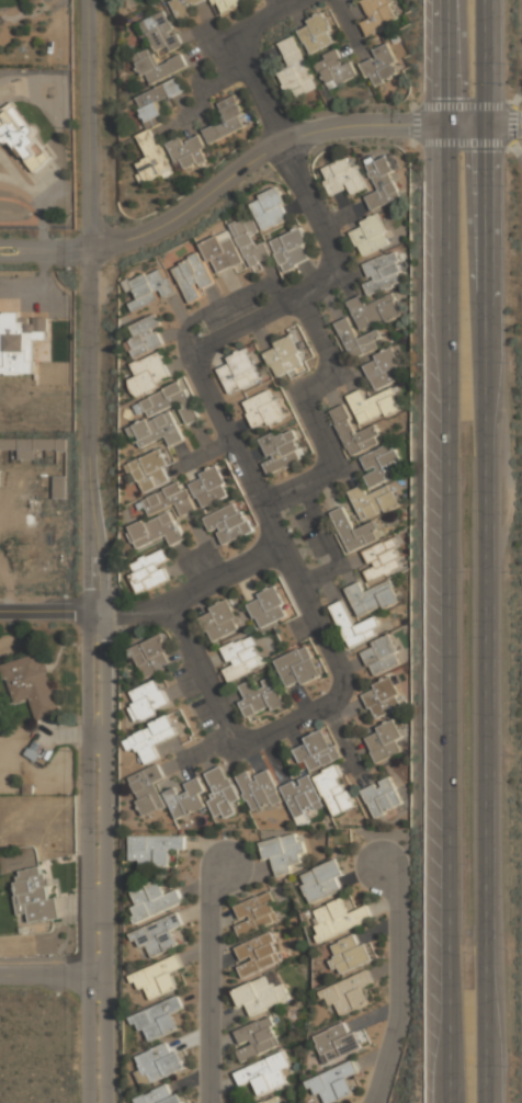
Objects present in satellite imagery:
building: (227, 3)
building: (183, 7)
building: (378, 15)
building: (162, 32)
building: (317, 32)
building: (381, 64)
building: (158, 65)
building: (334, 67)
building: (296, 69)
building: (158, 100)
building: (226, 121)
traffic signals: (449, 123)
traffic signals: (498, 123)
road: (510, 123)
road: (510, 124)
road: (89, 125)
building: (22, 137)
road: (279, 140)
building: (188, 151)
building: (152, 157)
building: (343, 174)
building: (383, 182)
building: (271, 207)
building: (371, 234)
building: (251, 241)
road: (45, 248)
building: (293, 248)
building: (222, 251)
building: (383, 272)
building: (193, 274)
building: (150, 287)
building: (375, 311)
building: (146, 336)
building: (359, 338)
building: (21, 342)
building: (284, 355)
building: (383, 368)
building: (239, 369)
building: (150, 372)
building: (373, 405)
building: (264, 408)
building: (162, 414)
building: (355, 431)
building: (32, 446)
building: (282, 448)
road: (240, 459)
building: (382, 463)
building: (150, 469)
building: (209, 486)
building: (59, 487)
building: (363, 514)
building: (162, 515)
building: (228, 523)
road: (498, 550)
road: (450, 551)
building: (383, 558)
building: (148, 570)
road: (224, 578)
building: (372, 596)
road: (47, 609)
building: (268, 609)
building: (220, 619)
building: (355, 625)
building: (382, 655)
building: (242, 656)
building: (152, 657)
building: (298, 666)
road: (95, 675)
building: (33, 683)
building: (260, 696)
building: (383, 696)
building: (148, 701)
building: (151, 738)
building: (384, 739)
building: (316, 750)
building: (35, 751)
building: (148, 787)
building: (260, 788)
building: (336, 789)
building: (222, 793)
building: (300, 796)
building: (383, 796)
building: (186, 798)
building: (154, 849)
building: (285, 851)
building: (322, 880)
building: (36, 894)
building: (155, 899)
building: (257, 912)
building: (339, 918)
building: (160, 934)
building: (258, 953)
building: (350, 953)
road: (49, 973)
road: (211, 975)
building: (158, 977)
road: (400, 978)
building: (260, 992)
building: (348, 992)
building: (158, 1019)
building: (257, 1038)
building: (338, 1042)
building: (159, 1061)
building: (264, 1073)
building: (332, 1082)
building: (160, 1095)
building: (270, 1100)

